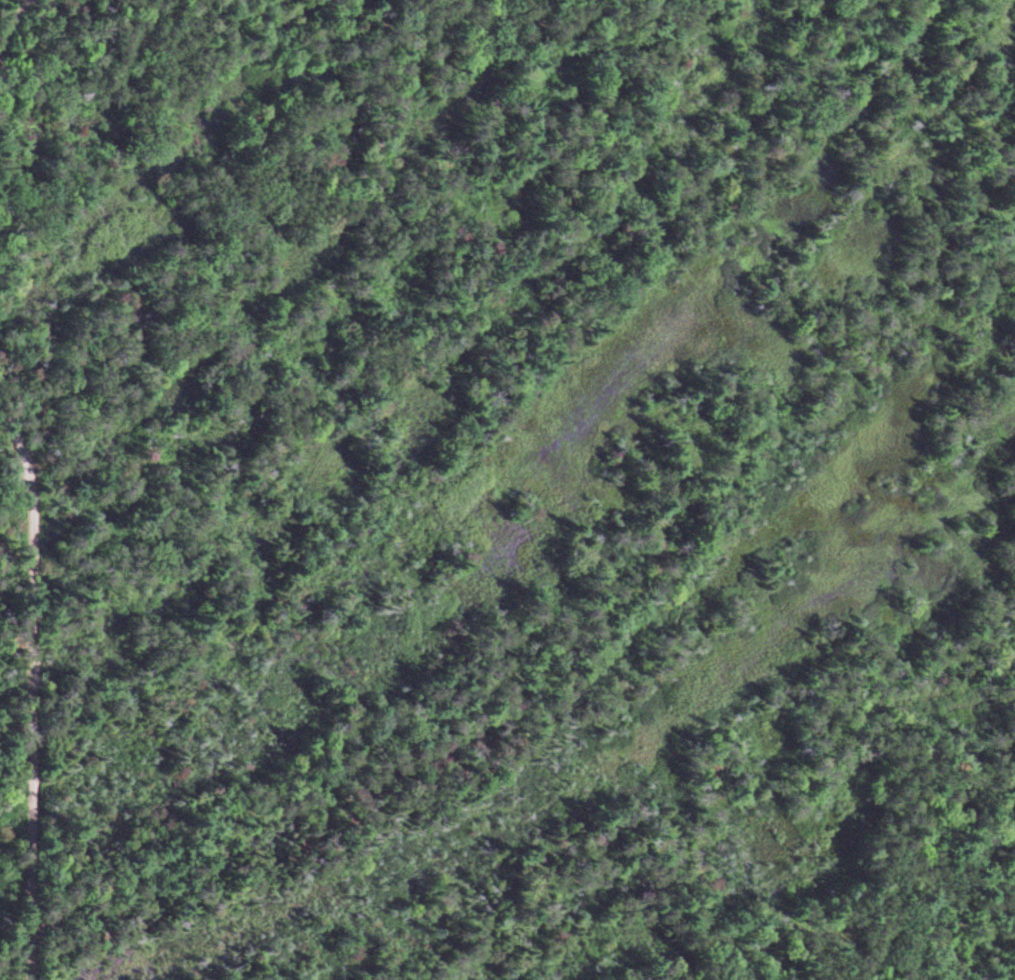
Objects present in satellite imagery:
road: (2, 50)
road: (580, 625)
road: (32, 694)

